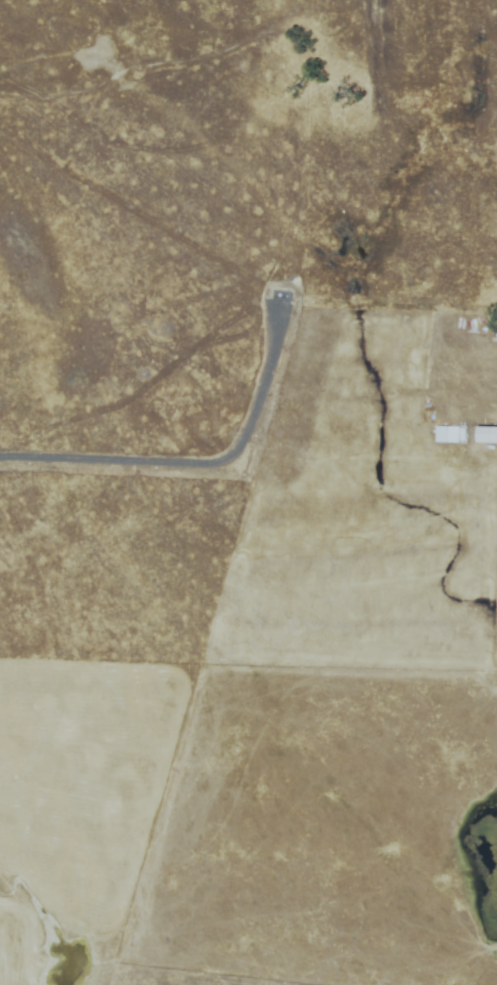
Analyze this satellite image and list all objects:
building: (483, 45)
building: (446, 435)
building: (485, 436)

